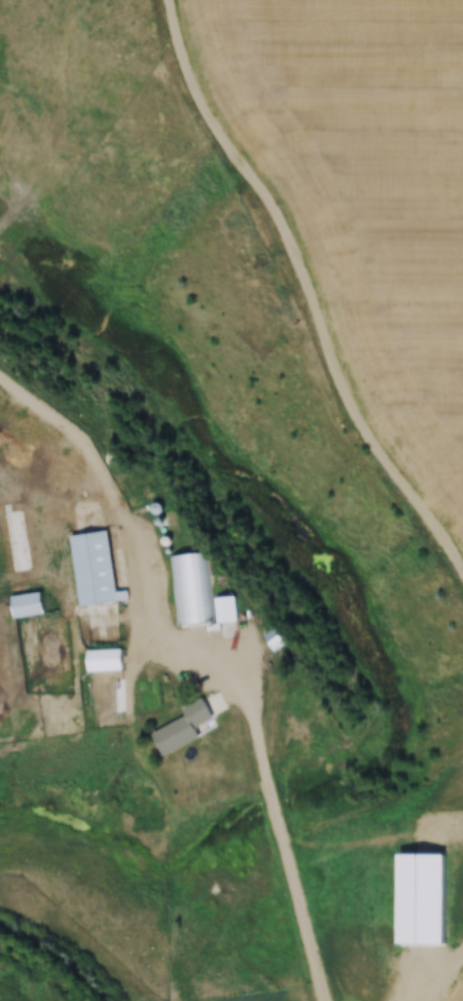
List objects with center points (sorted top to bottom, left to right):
road: (310, 290)
road: (87, 436)
building: (100, 567)
building: (190, 588)
building: (28, 605)
building: (227, 609)
building: (275, 640)
building: (106, 663)
building: (185, 727)
road: (262, 746)
road: (442, 827)
building: (402, 917)
road: (447, 986)

